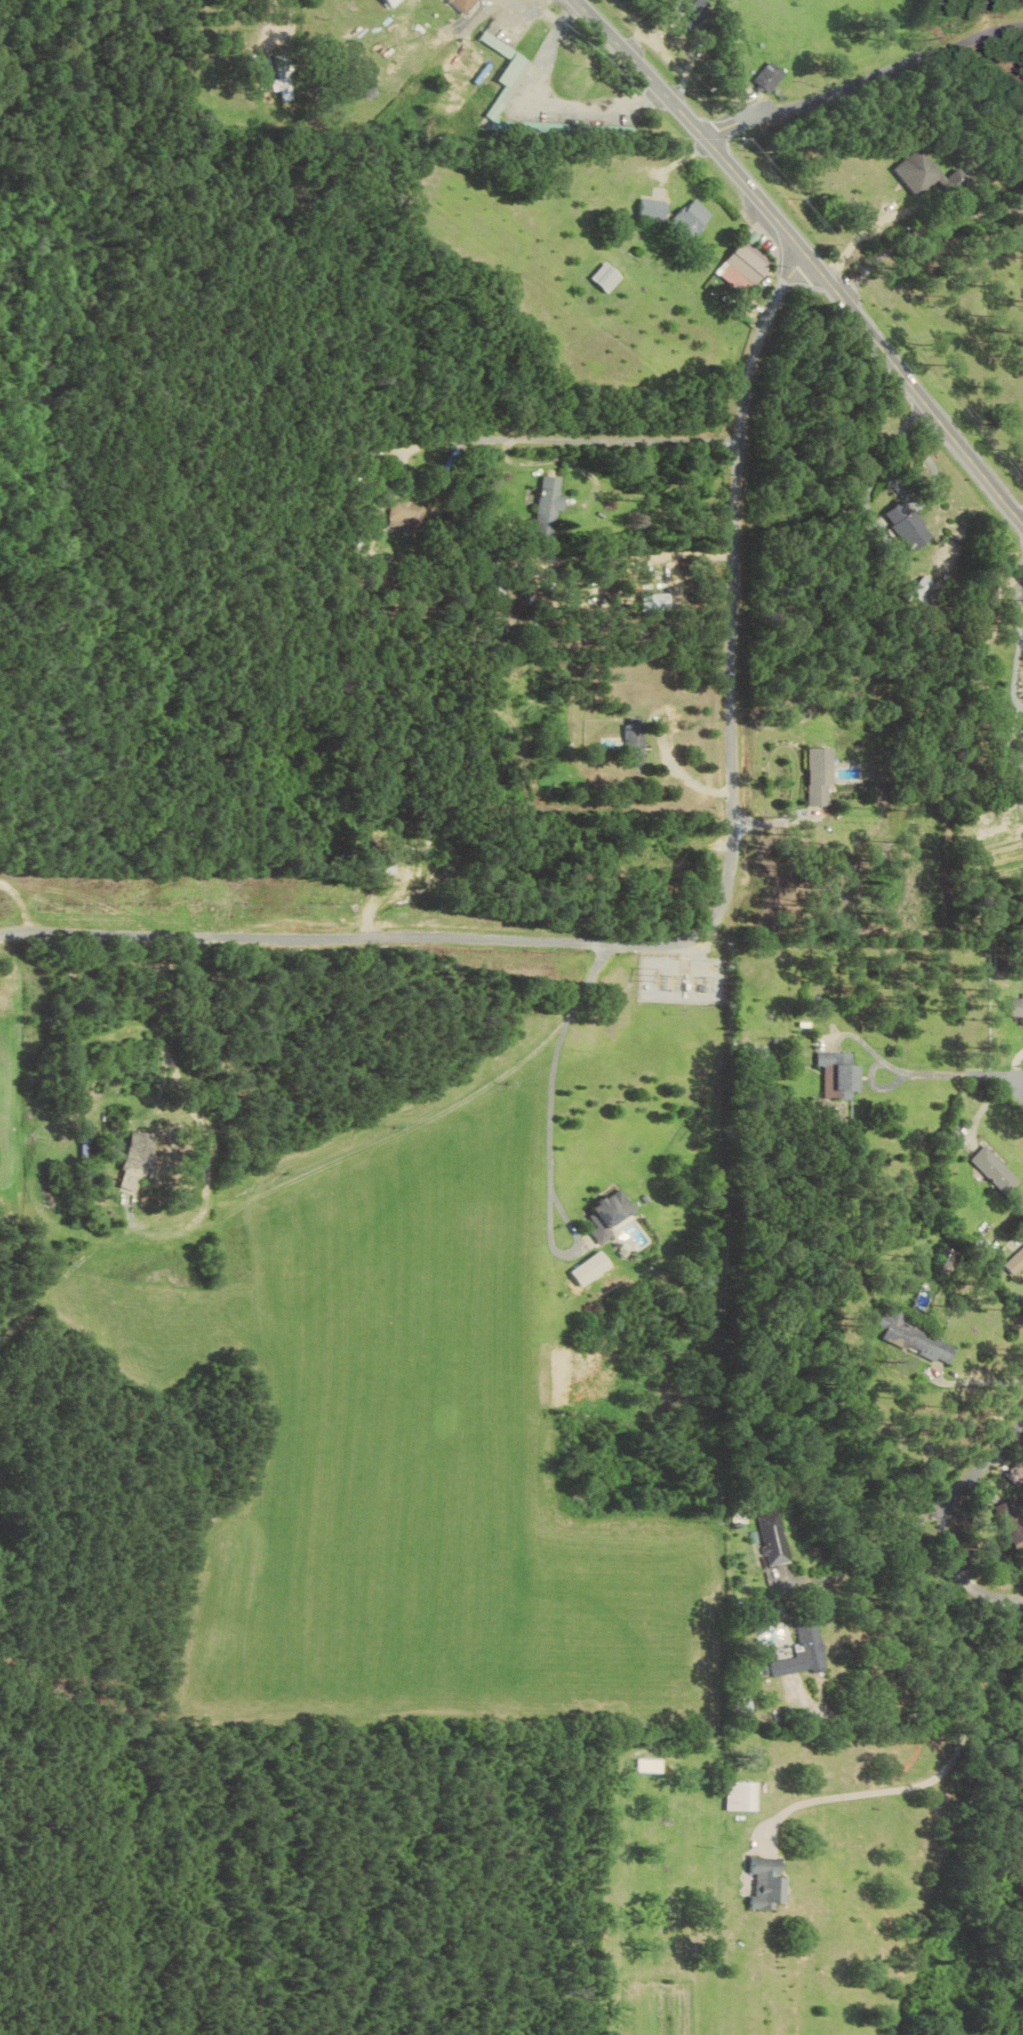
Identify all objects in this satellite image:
building: (466, 4)
building: (699, 10)
road: (535, 13)
road: (276, 16)
road: (980, 21)
building: (497, 44)
building: (513, 69)
building: (771, 76)
building: (286, 78)
road: (865, 86)
road: (550, 102)
building: (929, 173)
building: (651, 207)
building: (689, 219)
road: (870, 232)
road: (802, 253)
building: (744, 267)
building: (605, 276)
road: (581, 438)
building: (552, 504)
building: (413, 514)
building: (914, 525)
road: (570, 542)
road: (1022, 600)
building: (658, 602)
road: (1019, 677)
building: (634, 742)
road: (665, 746)
building: (1020, 749)
building: (824, 786)
road: (700, 934)
building: (1019, 1007)
road: (956, 1071)
building: (839, 1075)
road: (1020, 1080)
road: (456, 1100)
road: (555, 1130)
building: (142, 1153)
building: (998, 1171)
building: (614, 1215)
building: (1016, 1263)
building: (911, 1339)
road: (975, 1380)
building: (1017, 1476)
road: (942, 1522)
building: (775, 1539)
road: (860, 1563)
building: (804, 1652)
road: (863, 1726)
road: (913, 1752)
building: (648, 1765)
building: (742, 1796)
building: (768, 1884)
road: (228, 1910)

